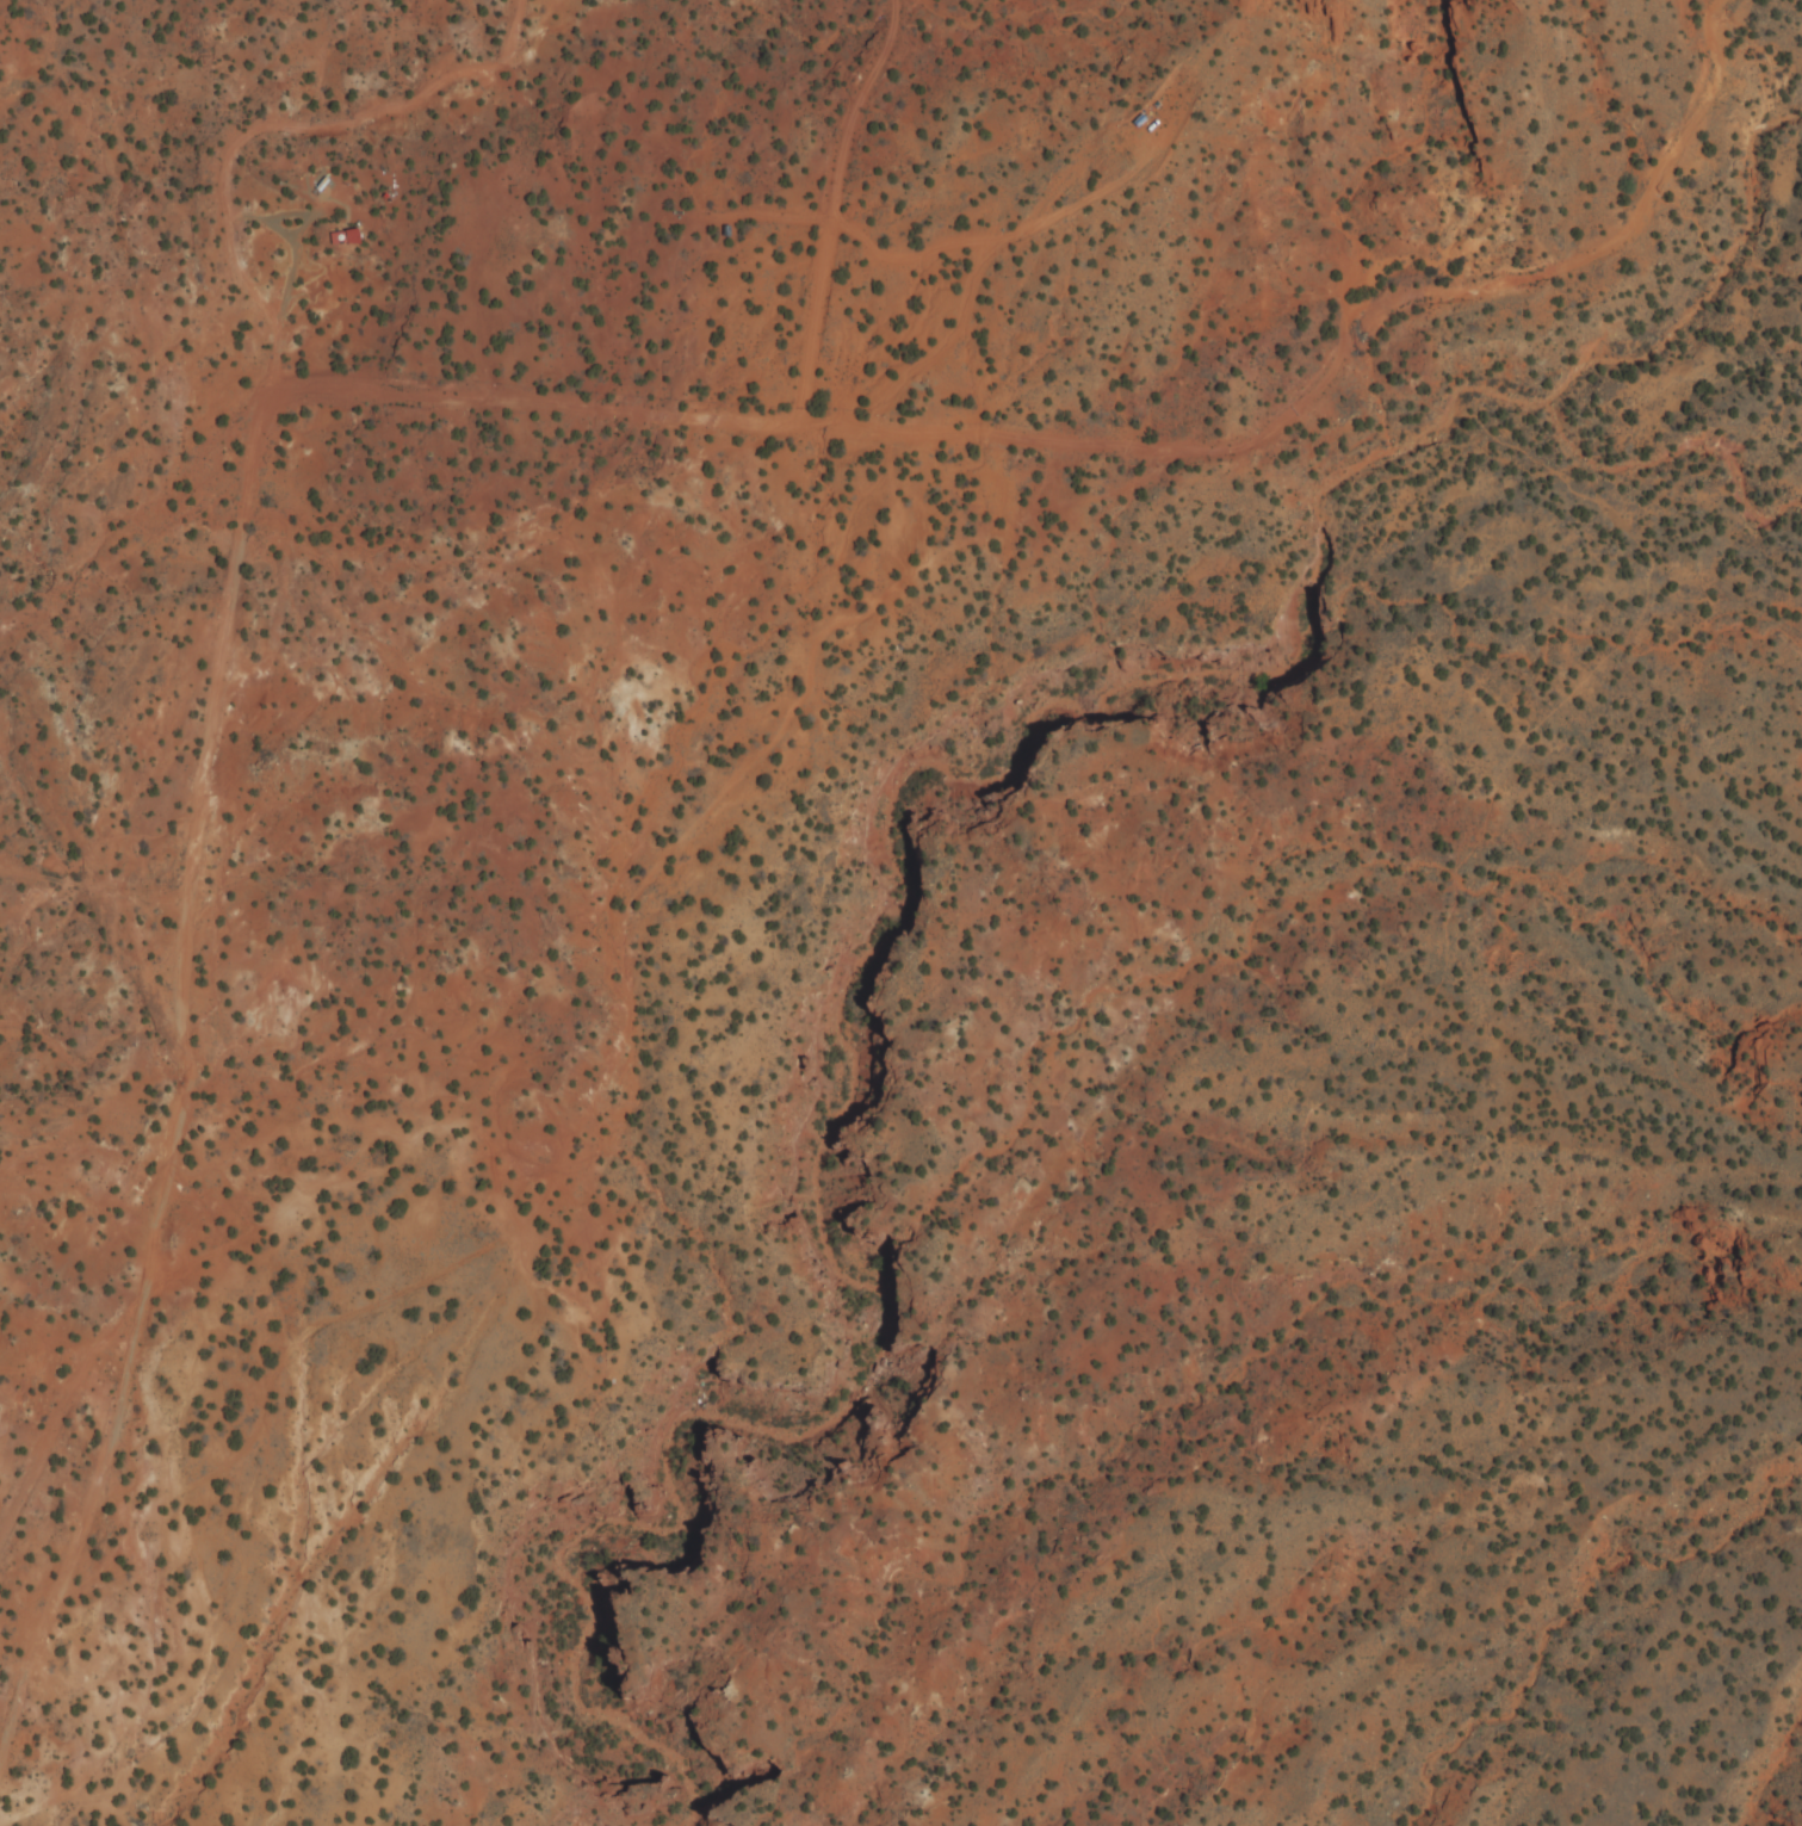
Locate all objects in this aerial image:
road: (516, 400)

